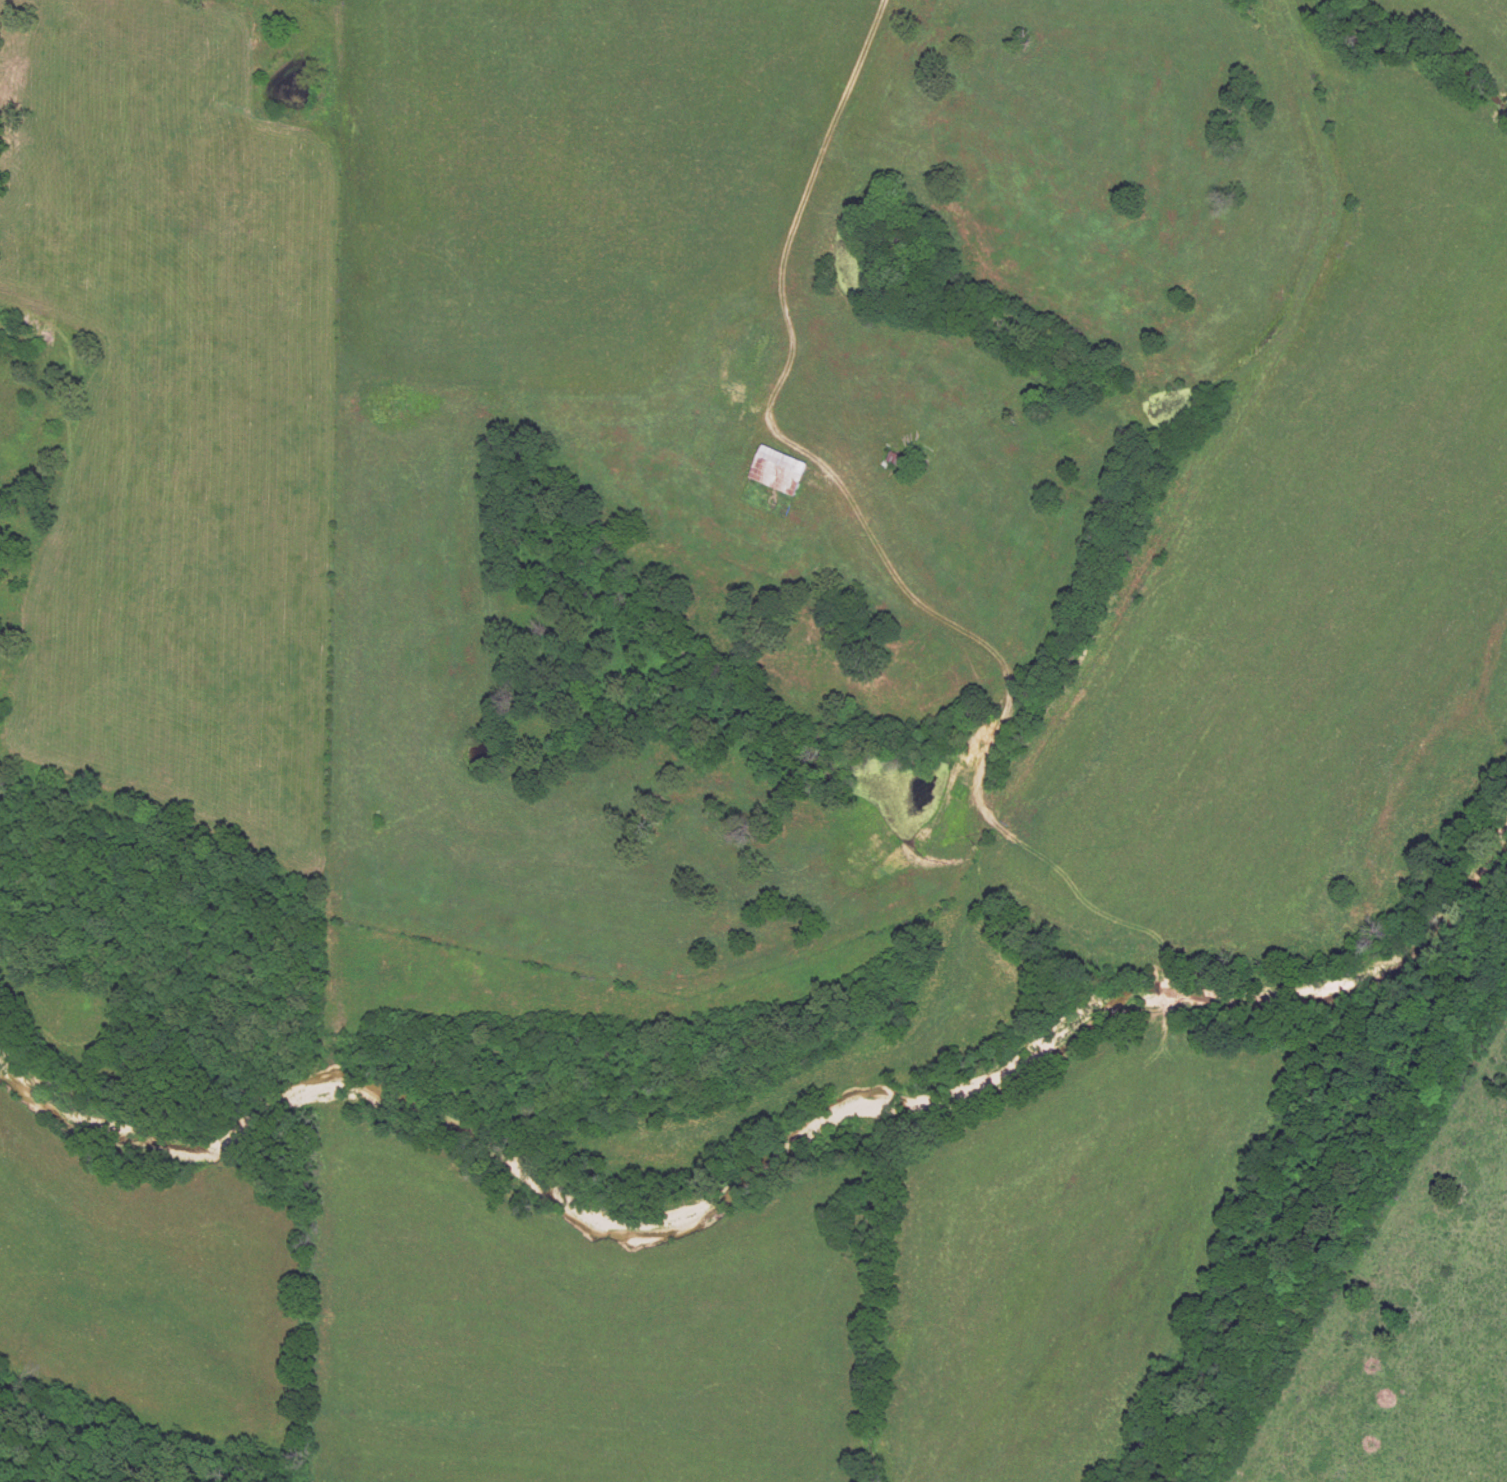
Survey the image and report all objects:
road: (802, 196)
building: (776, 472)

